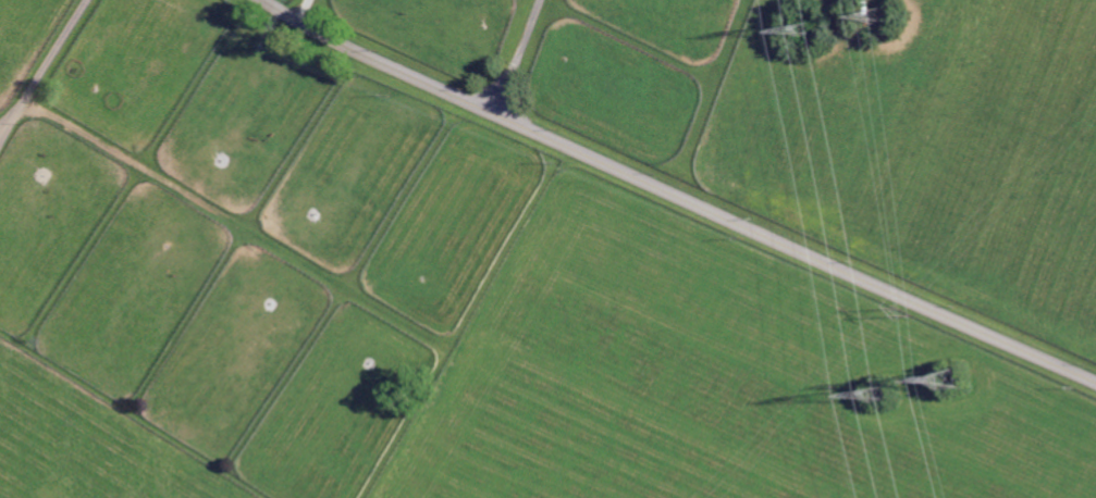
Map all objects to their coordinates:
road: (304, 10)
power tower: (885, 13)
power tower: (813, 34)
road: (509, 55)
road: (40, 72)
road: (679, 196)
power tower: (903, 312)
power tower: (953, 374)
power tower: (892, 397)

